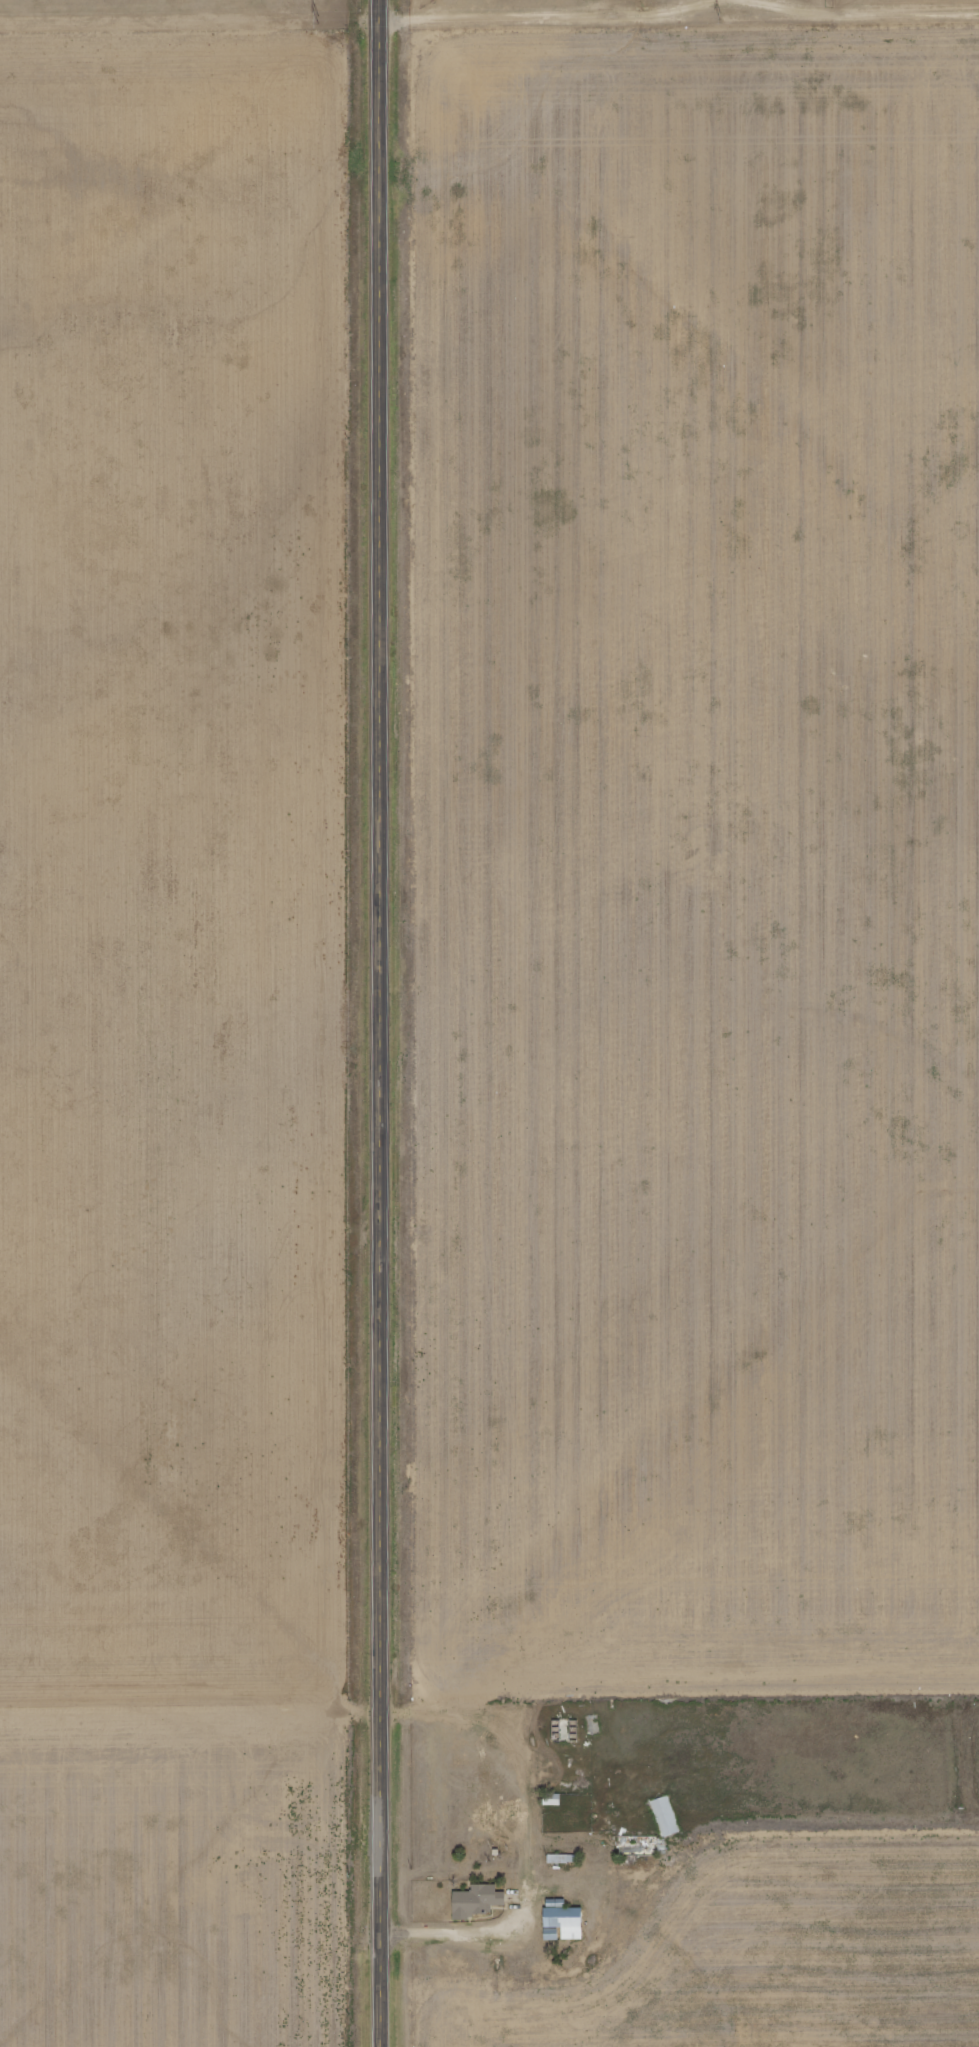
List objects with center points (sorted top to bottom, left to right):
power tower: (718, 15)
power tower: (315, 20)
road: (385, 1023)
building: (665, 1815)

